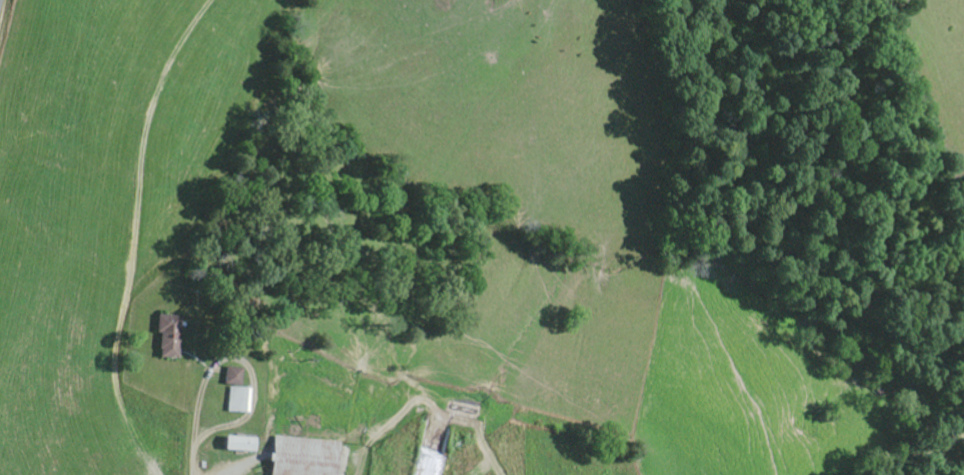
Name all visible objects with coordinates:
building: (168, 337)
building: (232, 378)
building: (237, 401)
building: (240, 445)
building: (303, 457)

